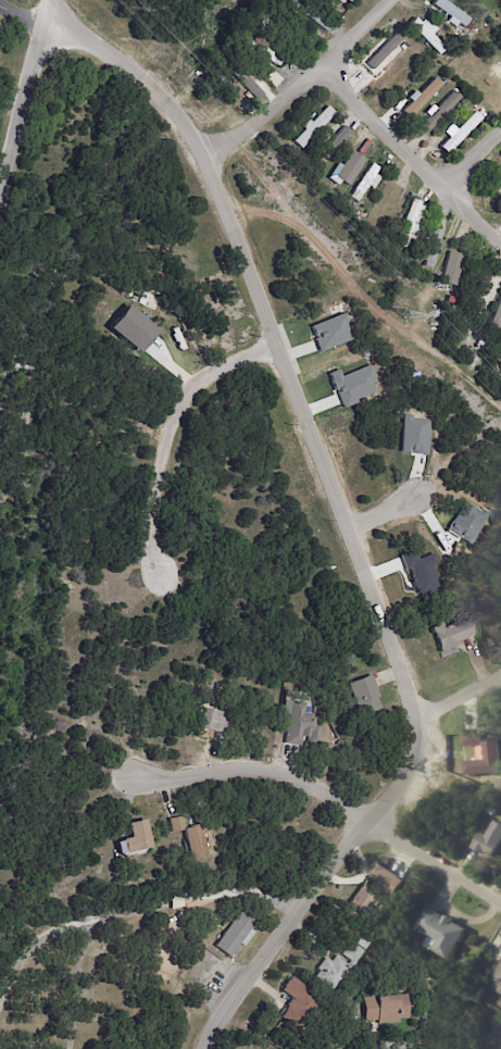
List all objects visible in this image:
building: (342, 1)
building: (351, 1)
road: (50, 4)
building: (451, 12)
building: (310, 14)
road: (22, 15)
building: (266, 26)
building: (471, 27)
road: (350, 30)
building: (428, 35)
building: (265, 51)
building: (385, 53)
road: (137, 78)
building: (274, 78)
building: (246, 82)
road: (24, 88)
building: (421, 96)
building: (474, 105)
building: (440, 112)
road: (263, 113)
building: (314, 126)
building: (461, 133)
road: (408, 157)
road: (466, 159)
building: (351, 166)
building: (500, 178)
building: (366, 182)
building: (498, 191)
building: (414, 224)
building: (431, 248)
building: (409, 260)
building: (415, 267)
building: (452, 269)
power tower: (405, 315)
building: (497, 319)
building: (330, 332)
road: (174, 432)
road: (381, 510)
road: (384, 624)
building: (453, 634)
building: (366, 695)
road: (460, 696)
building: (214, 722)
building: (300, 724)
road: (245, 767)
building: (190, 837)
building: (137, 838)
building: (490, 840)
road: (431, 856)
building: (380, 873)
building: (177, 902)
building: (360, 904)
building: (210, 919)
building: (443, 933)
building: (237, 934)
building: (361, 944)
building: (336, 966)
building: (498, 978)
building: (500, 989)
building: (298, 1003)
building: (384, 1009)
building: (362, 1047)

